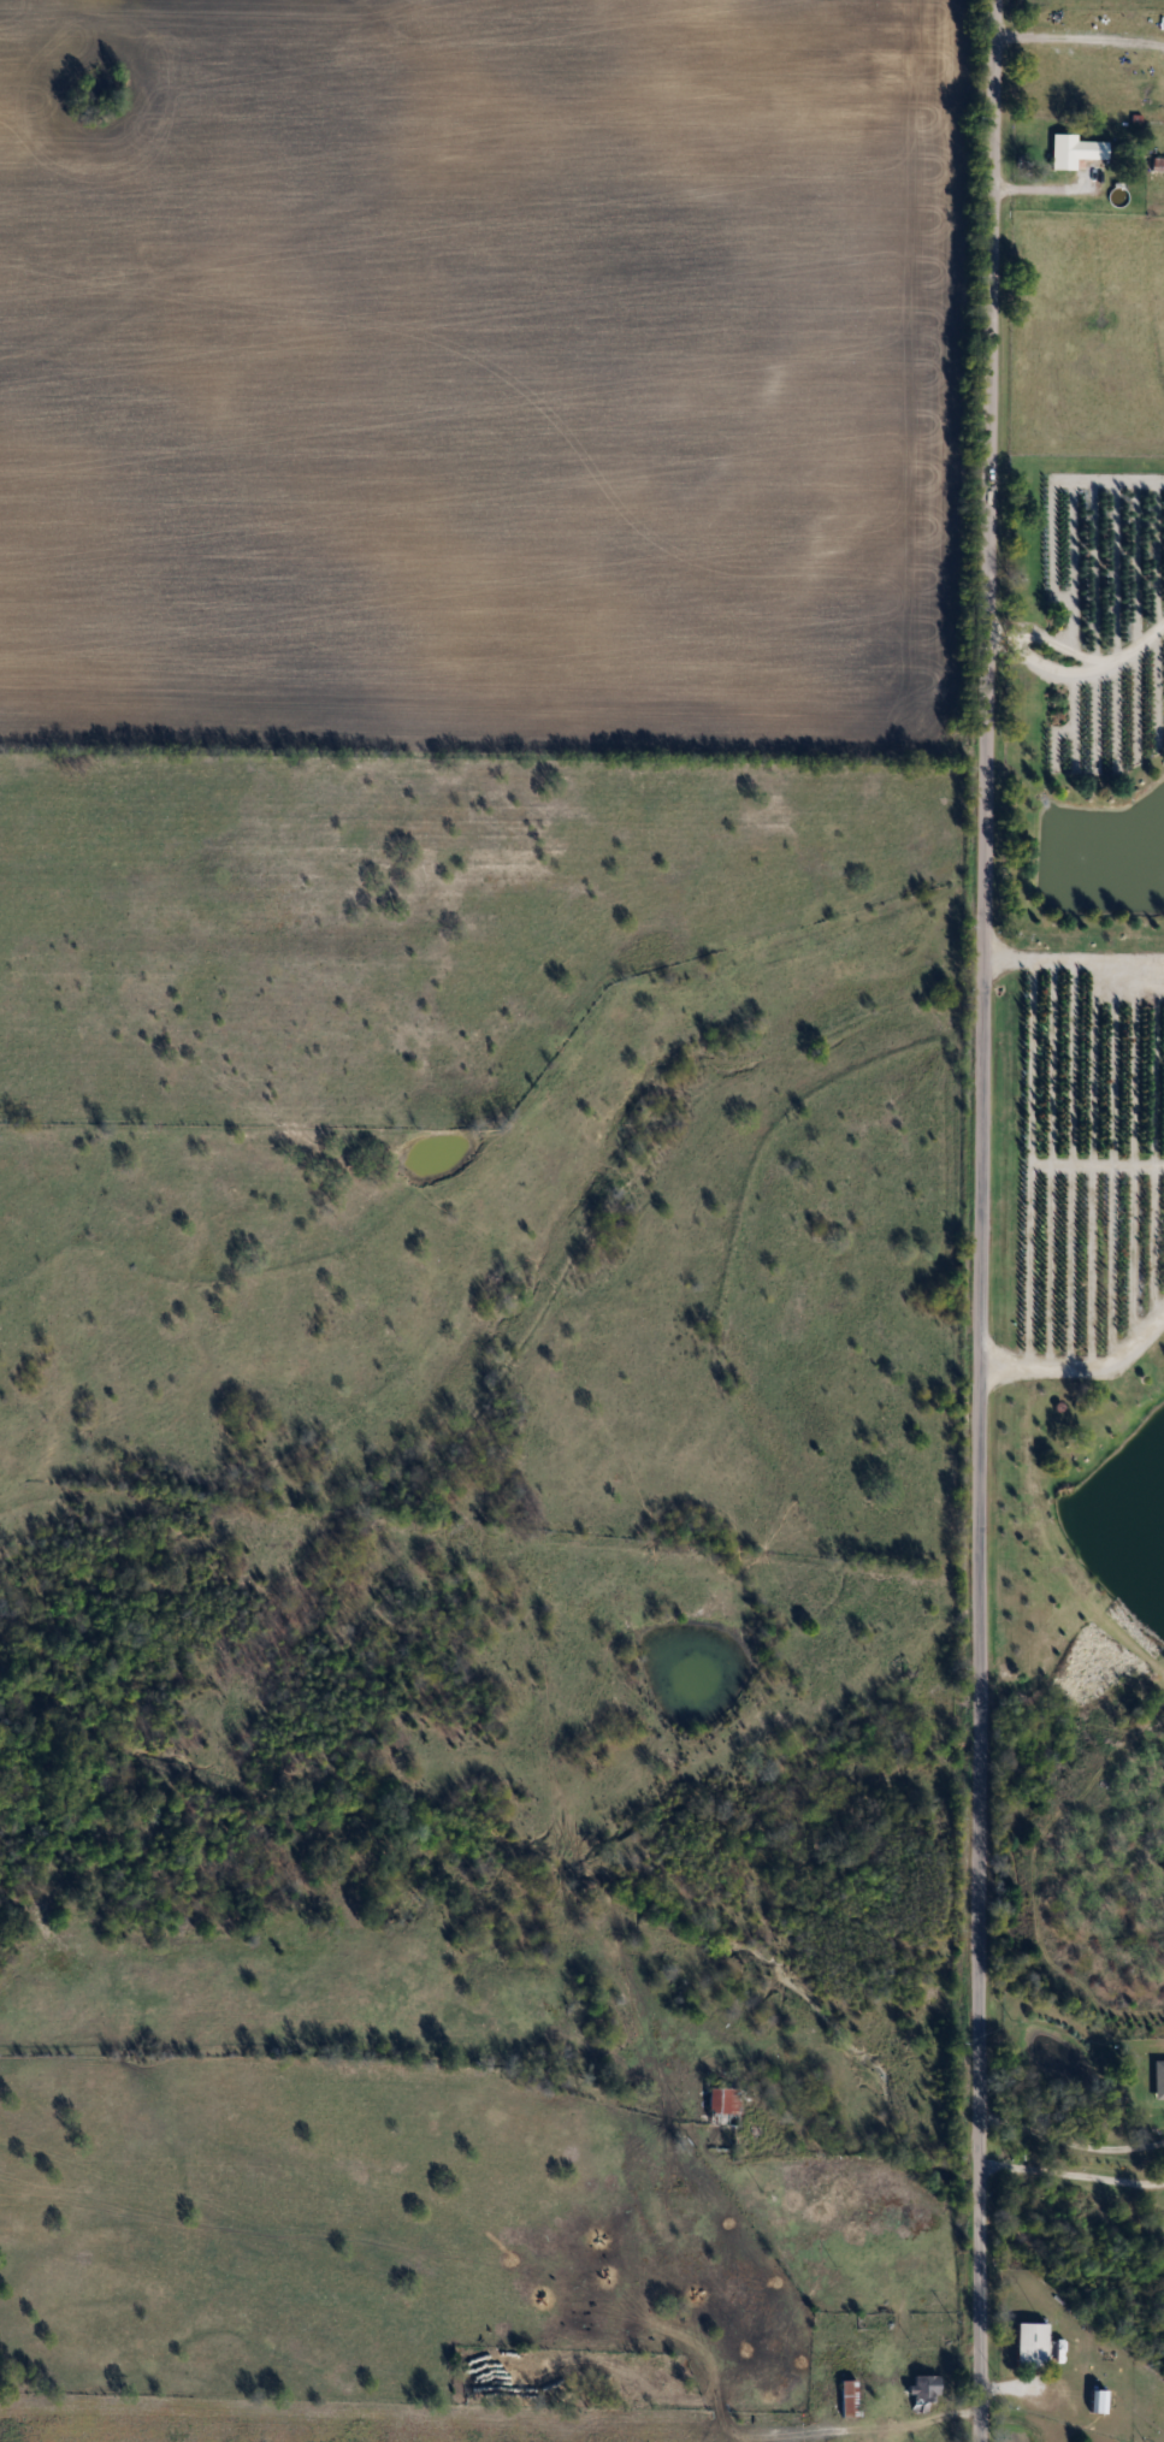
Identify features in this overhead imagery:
road: (1079, 46)
building: (1071, 153)
road: (1080, 663)
road: (1074, 962)
road: (982, 1220)
road: (1083, 1370)
building: (721, 2106)
road: (1070, 2142)
road: (1073, 2176)
building: (1026, 2347)
building: (921, 2393)
building: (845, 2400)

